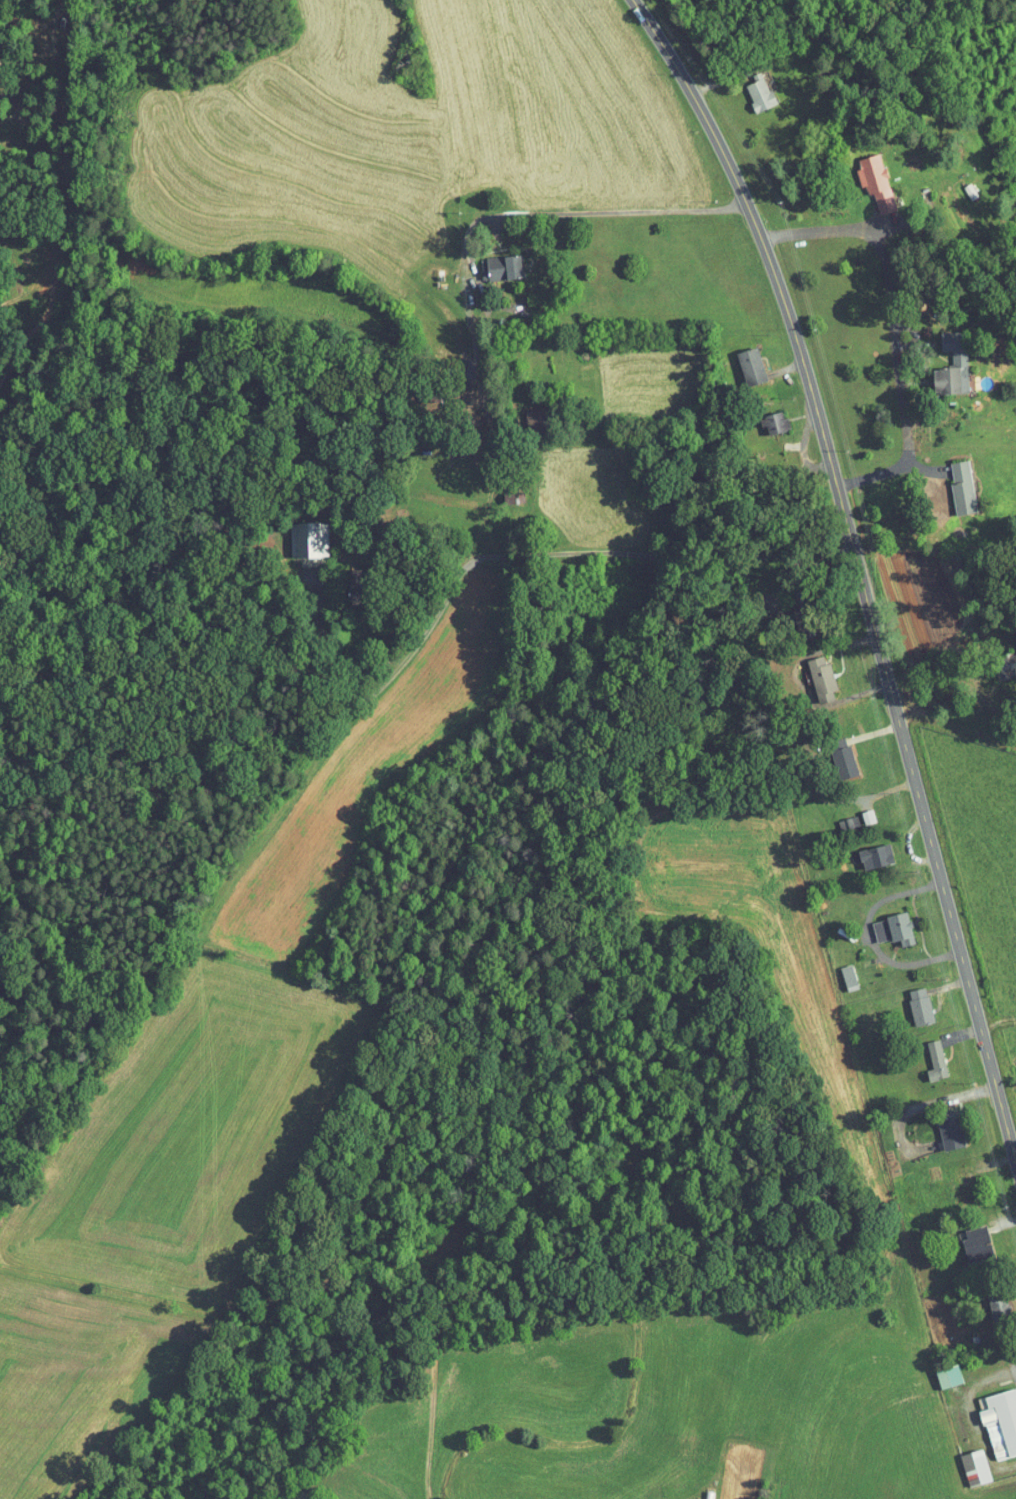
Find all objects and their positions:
building: (749, 86)
building: (865, 175)
road: (823, 231)
building: (494, 261)
building: (941, 359)
building: (740, 360)
road: (778, 369)
road: (895, 381)
building: (763, 416)
road: (488, 443)
building: (951, 482)
building: (298, 534)
road: (852, 584)
road: (430, 615)
building: (810, 673)
road: (376, 685)
building: (833, 757)
building: (856, 811)
building: (865, 851)
building: (882, 924)
building: (838, 972)
building: (909, 999)
building: (925, 1054)
building: (939, 1127)
building: (965, 1238)
building: (987, 1296)
building: (938, 1370)
building: (994, 1417)
building: (964, 1461)

